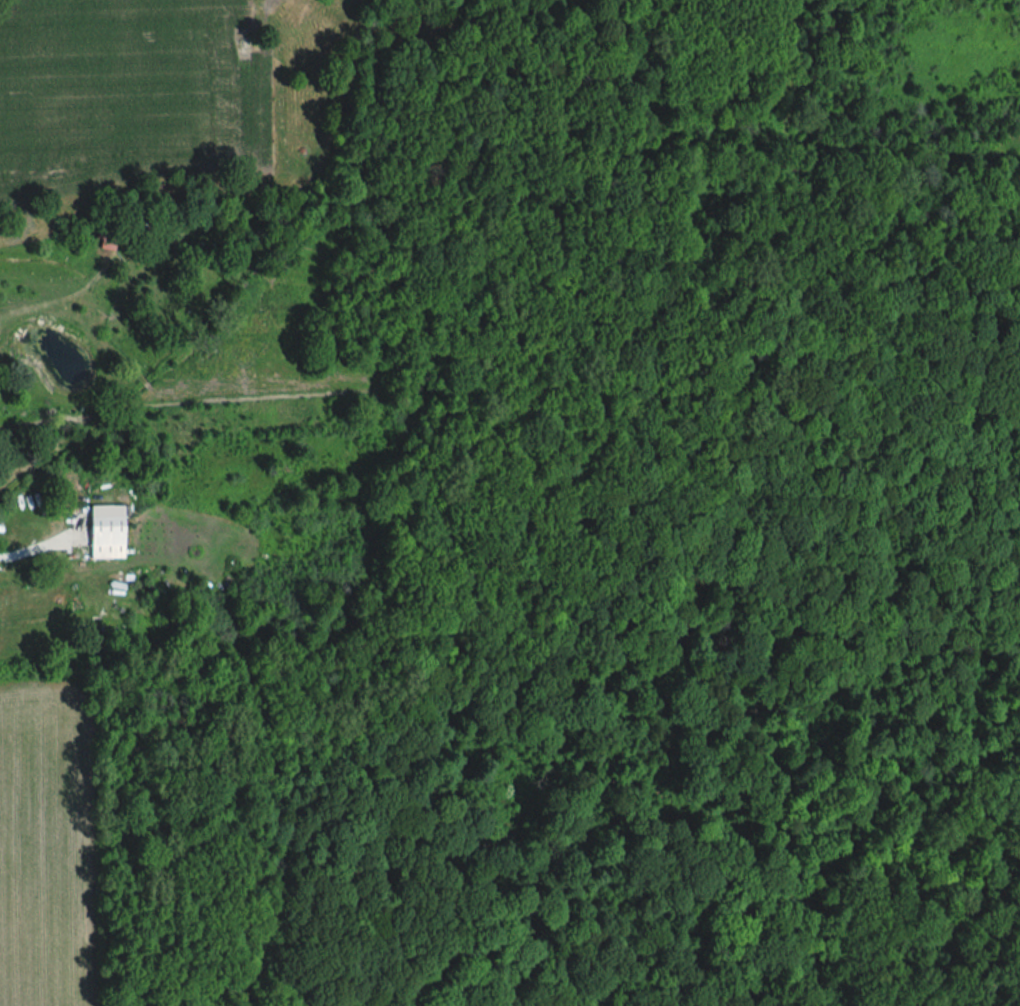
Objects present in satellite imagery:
crop: (128, 95)
building: (105, 538)
road: (13, 557)
crop: (46, 848)

